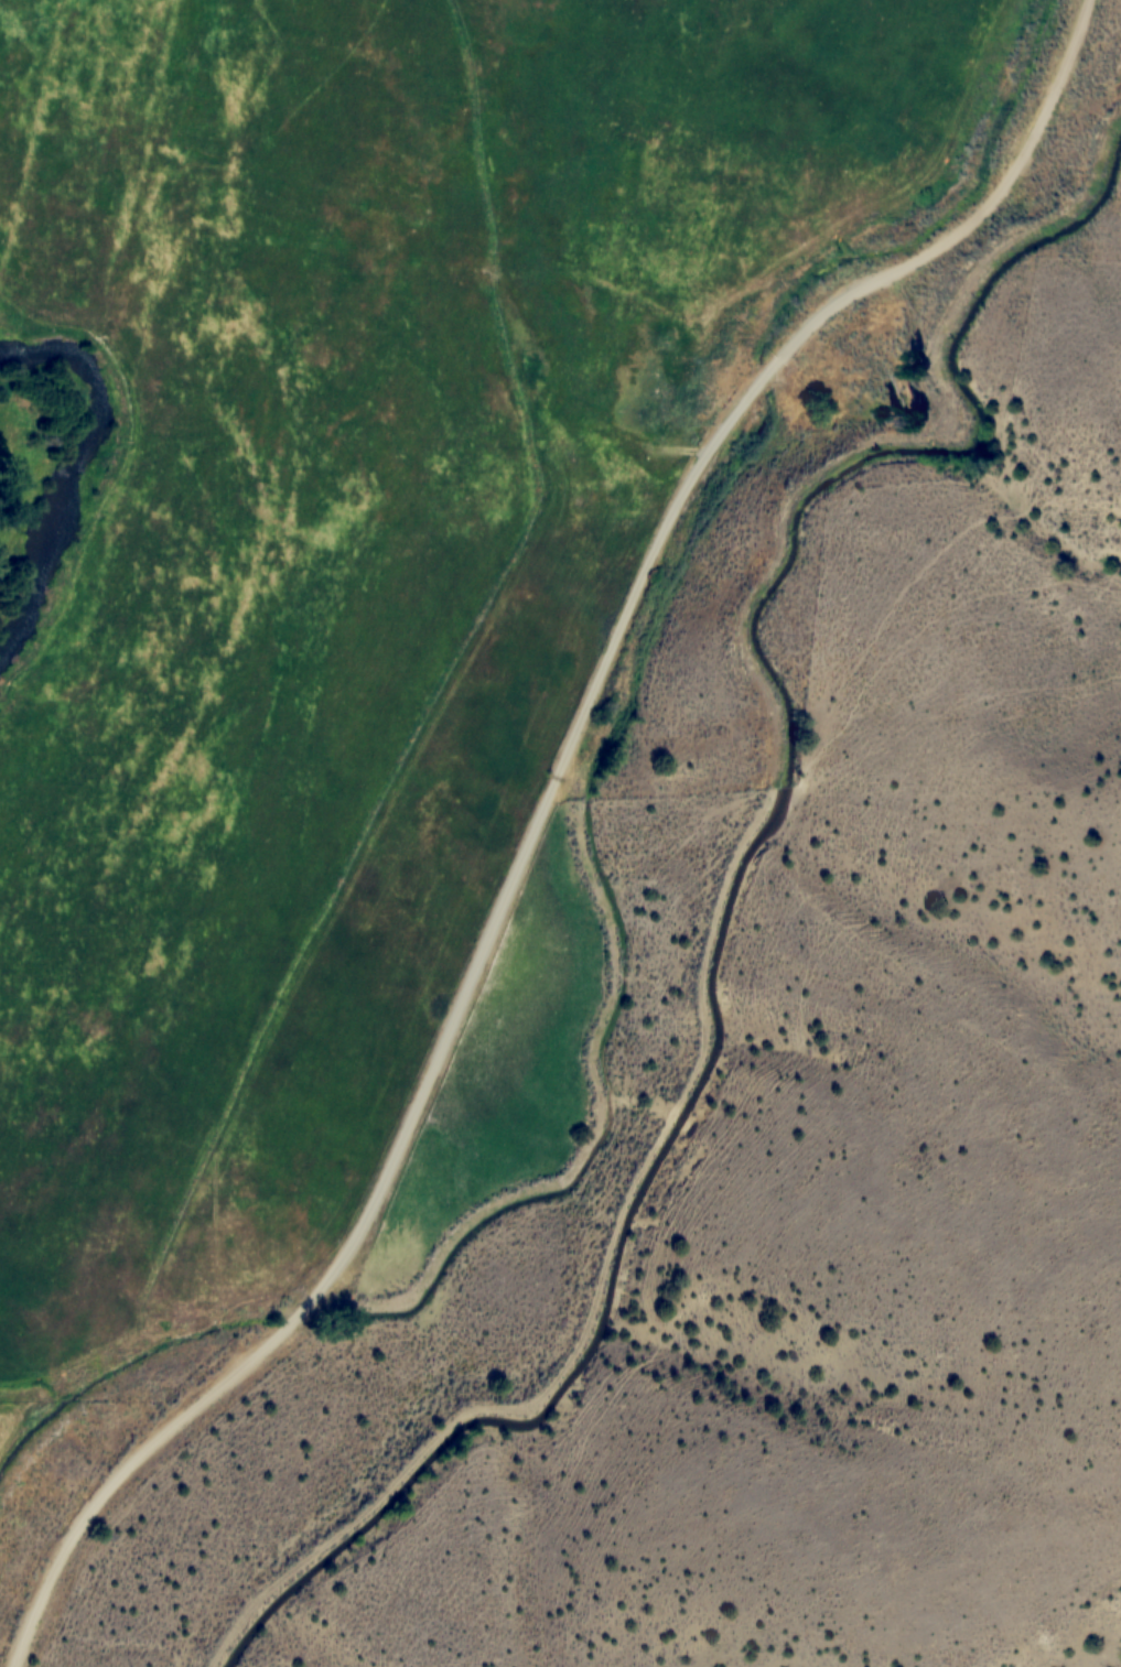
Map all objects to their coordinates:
river: (75, 468)
road: (540, 819)

